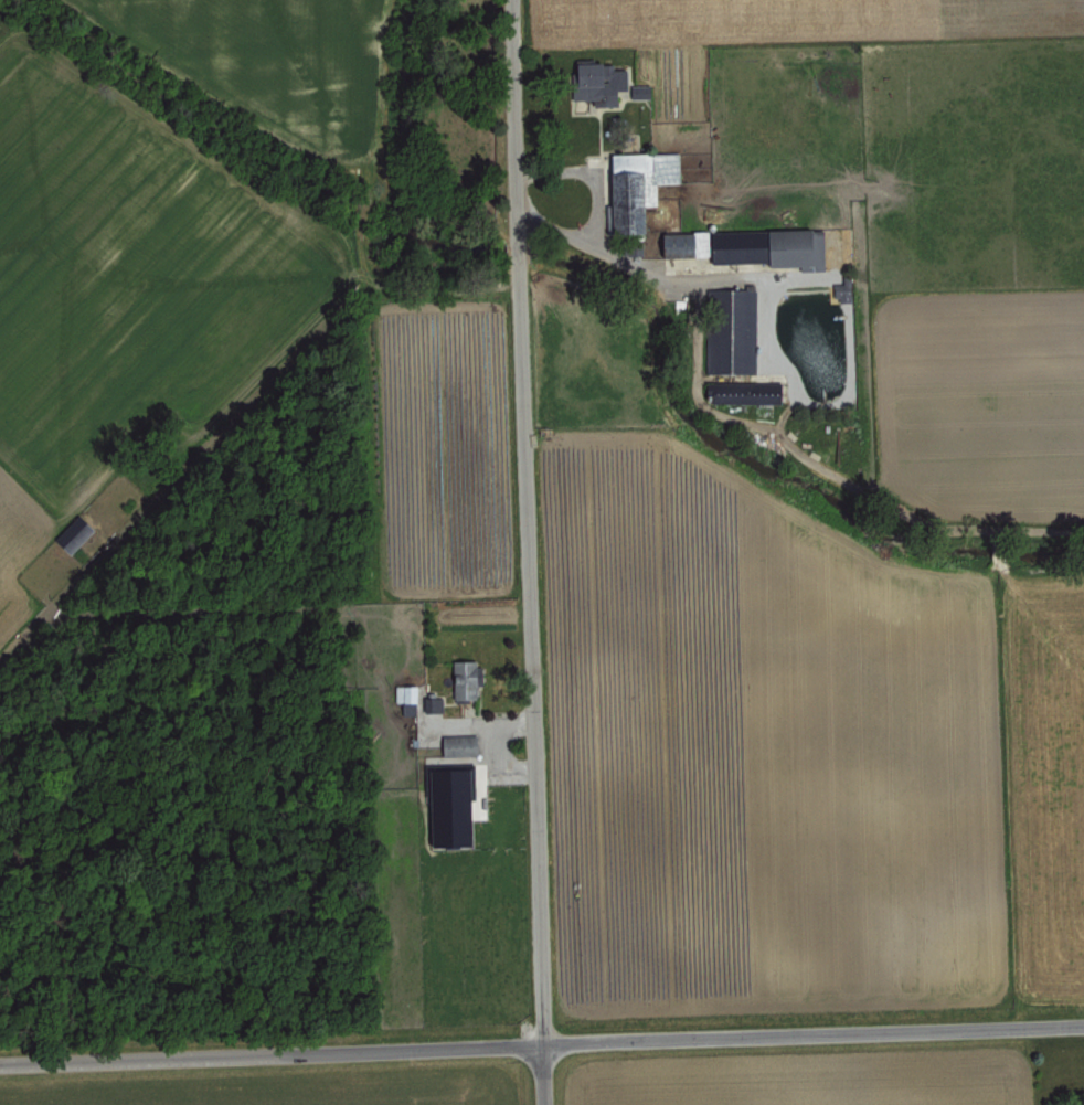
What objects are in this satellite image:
building: (596, 82)
building: (639, 91)
building: (635, 185)
road: (597, 204)
building: (747, 245)
road: (697, 280)
building: (841, 289)
road: (772, 326)
building: (731, 330)
building: (744, 392)
building: (72, 534)
road: (527, 552)
building: (463, 679)
building: (405, 698)
building: (432, 704)
building: (457, 744)
building: (447, 807)
road: (541, 1044)

